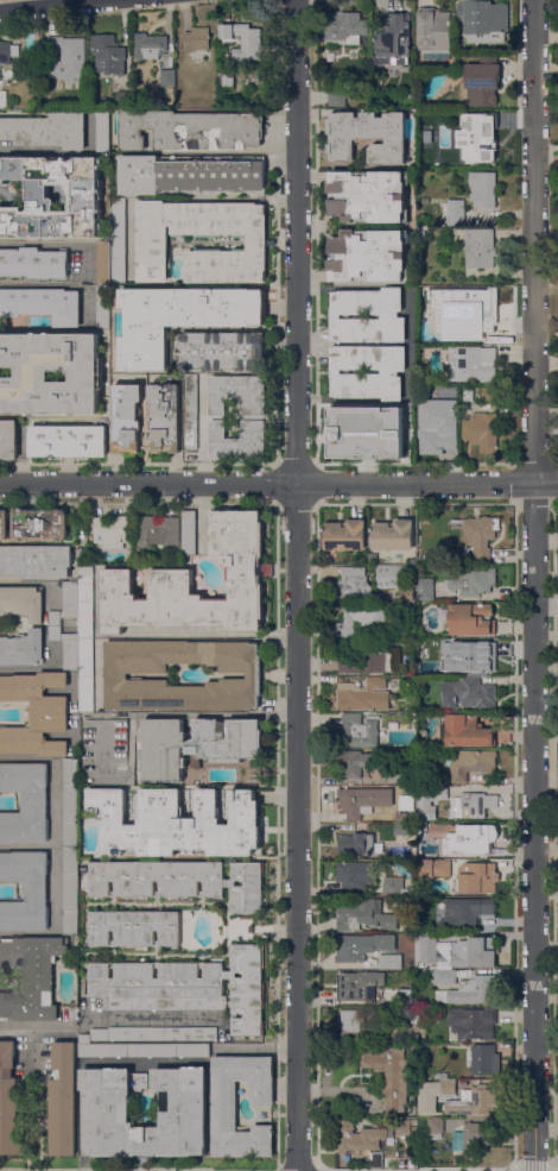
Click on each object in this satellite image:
road: (53, 6)
building: (484, 20)
building: (344, 27)
building: (433, 33)
building: (197, 38)
building: (394, 38)
building: (245, 40)
building: (151, 45)
building: (8, 52)
building: (109, 55)
building: (68, 57)
building: (6, 74)
building: (167, 77)
building: (227, 80)
building: (482, 81)
building: (2, 97)
building: (337, 97)
building: (123, 99)
building: (379, 103)
building: (46, 130)
building: (190, 130)
building: (102, 131)
building: (477, 131)
building: (367, 136)
road: (222, 151)
building: (186, 175)
building: (482, 189)
building: (368, 196)
building: (85, 197)
building: (452, 213)
building: (420, 235)
building: (107, 238)
building: (116, 241)
building: (151, 243)
road: (57, 244)
building: (478, 247)
building: (368, 256)
building: (33, 263)
building: (103, 264)
road: (31, 285)
building: (43, 304)
building: (103, 308)
building: (389, 316)
building: (179, 319)
building: (478, 326)
building: (442, 328)
building: (222, 351)
building: (473, 364)
building: (33, 374)
building: (364, 374)
building: (446, 394)
building: (489, 395)
building: (467, 396)
building: (487, 405)
building: (192, 413)
building: (126, 417)
building: (165, 417)
building: (256, 418)
road: (203, 429)
building: (348, 429)
building: (482, 430)
building: (393, 433)
building: (435, 434)
building: (8, 439)
building: (68, 442)
road: (278, 483)
road: (203, 518)
building: (4, 524)
building: (40, 524)
building: (112, 531)
building: (190, 533)
building: (159, 534)
building: (345, 535)
building: (478, 535)
building: (392, 536)
building: (37, 561)
building: (171, 573)
building: (392, 575)
building: (473, 580)
building: (354, 584)
road: (297, 585)
road: (533, 585)
building: (75, 588)
building: (425, 588)
building: (406, 596)
building: (21, 603)
building: (85, 603)
building: (362, 619)
building: (470, 619)
building: (55, 622)
road: (45, 625)
road: (545, 637)
building: (23, 648)
building: (366, 659)
building: (461, 659)
building: (85, 675)
building: (116, 675)
building: (469, 693)
building: (364, 695)
building: (36, 713)
road: (192, 713)
building: (360, 730)
building: (467, 731)
building: (196, 744)
building: (356, 763)
building: (470, 763)
building: (408, 777)
building: (407, 789)
building: (430, 800)
building: (363, 801)
building: (404, 801)
building: (25, 802)
building: (477, 802)
building: (70, 804)
building: (404, 817)
building: (176, 823)
building: (423, 826)
building: (402, 829)
building: (464, 838)
building: (400, 839)
building: (357, 844)
road: (27, 845)
road: (56, 845)
building: (433, 868)
building: (82, 875)
building: (356, 875)
building: (477, 877)
building: (180, 881)
building: (395, 886)
building: (25, 889)
building: (70, 892)
building: (467, 912)
building: (366, 915)
building: (138, 928)
building: (251, 928)
building: (362, 946)
building: (477, 949)
building: (389, 961)
building: (444, 976)
building: (31, 977)
building: (186, 986)
building: (356, 986)
building: (471, 990)
building: (416, 1016)
building: (351, 1021)
building: (473, 1022)
road: (33, 1031)
building: (148, 1034)
building: (392, 1037)
building: (142, 1050)
building: (484, 1062)
building: (389, 1072)
building: (444, 1083)
building: (8, 1101)
building: (63, 1101)
building: (473, 1102)
building: (106, 1107)
building: (224, 1115)
building: (405, 1127)
building: (435, 1127)
building: (477, 1133)
building: (357, 1135)
building: (458, 1140)
building: (375, 1157)
building: (375, 1164)
road: (533, 1167)
road: (556, 1167)
road: (306, 1169)
road: (413, 1169)
road: (89, 1170)

